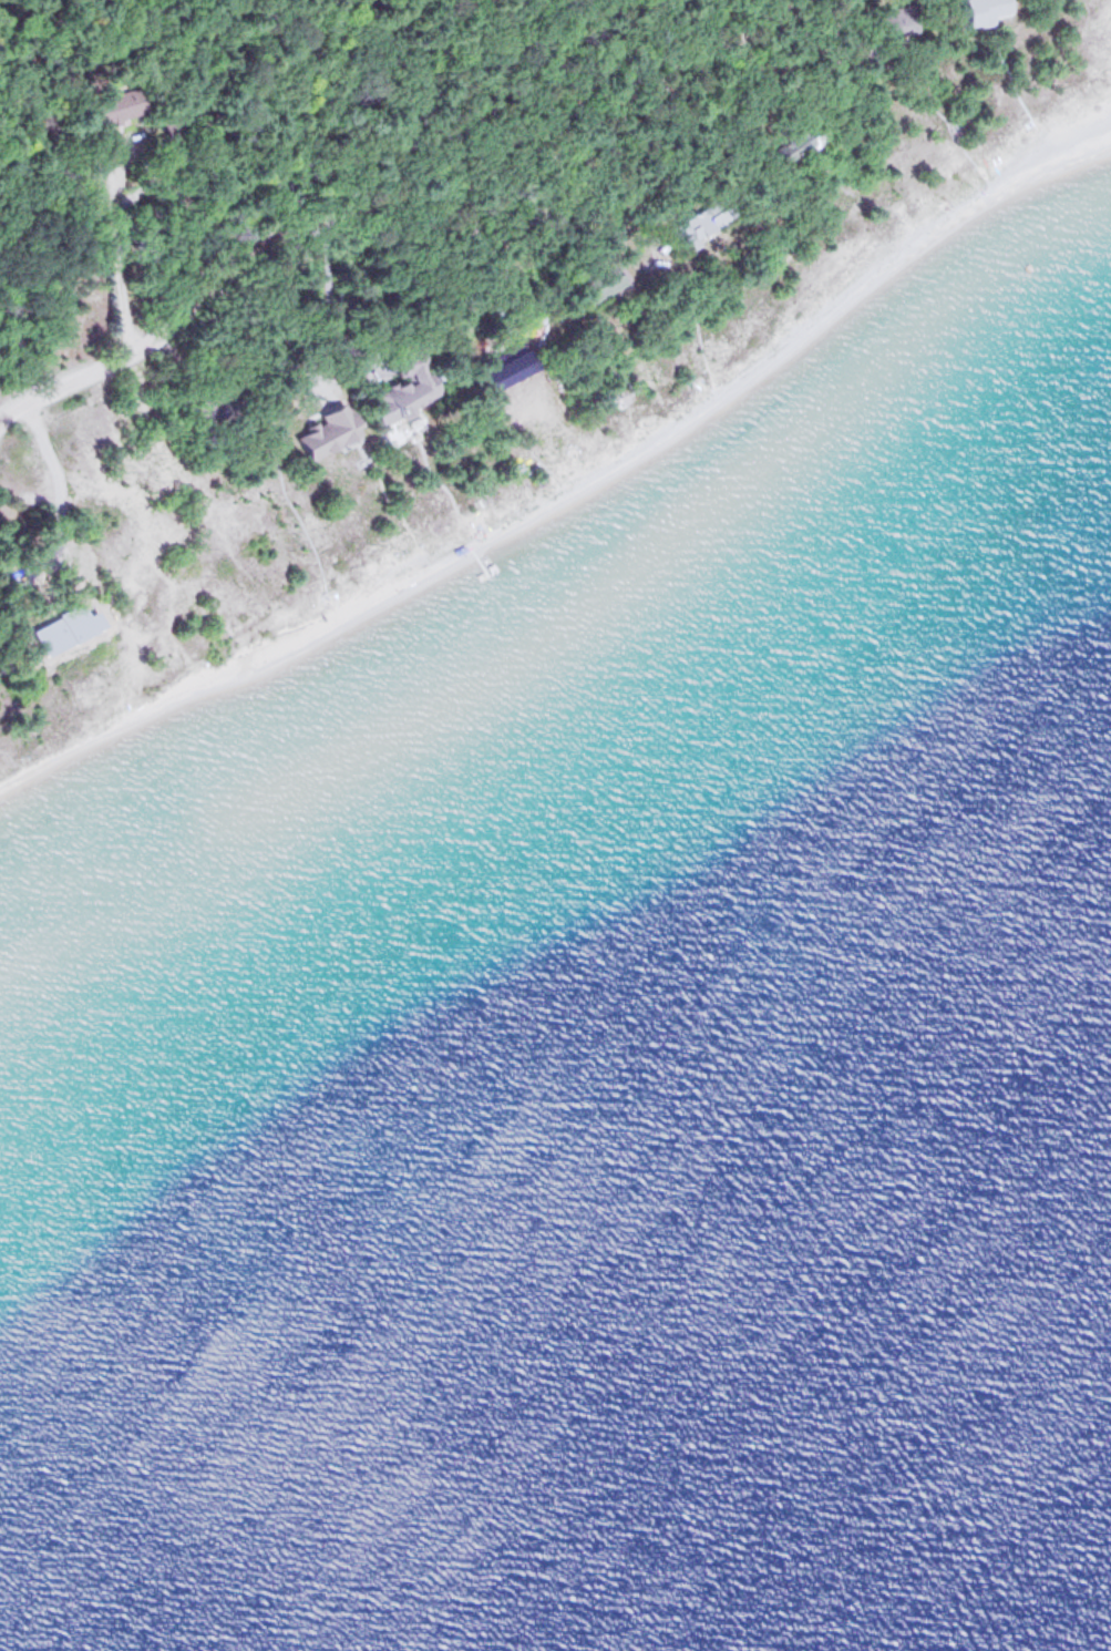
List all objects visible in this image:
building: (988, 10)
building: (896, 23)
building: (122, 105)
building: (175, 124)
building: (801, 145)
road: (392, 205)
building: (713, 218)
building: (510, 368)
building: (407, 381)
building: (330, 432)

